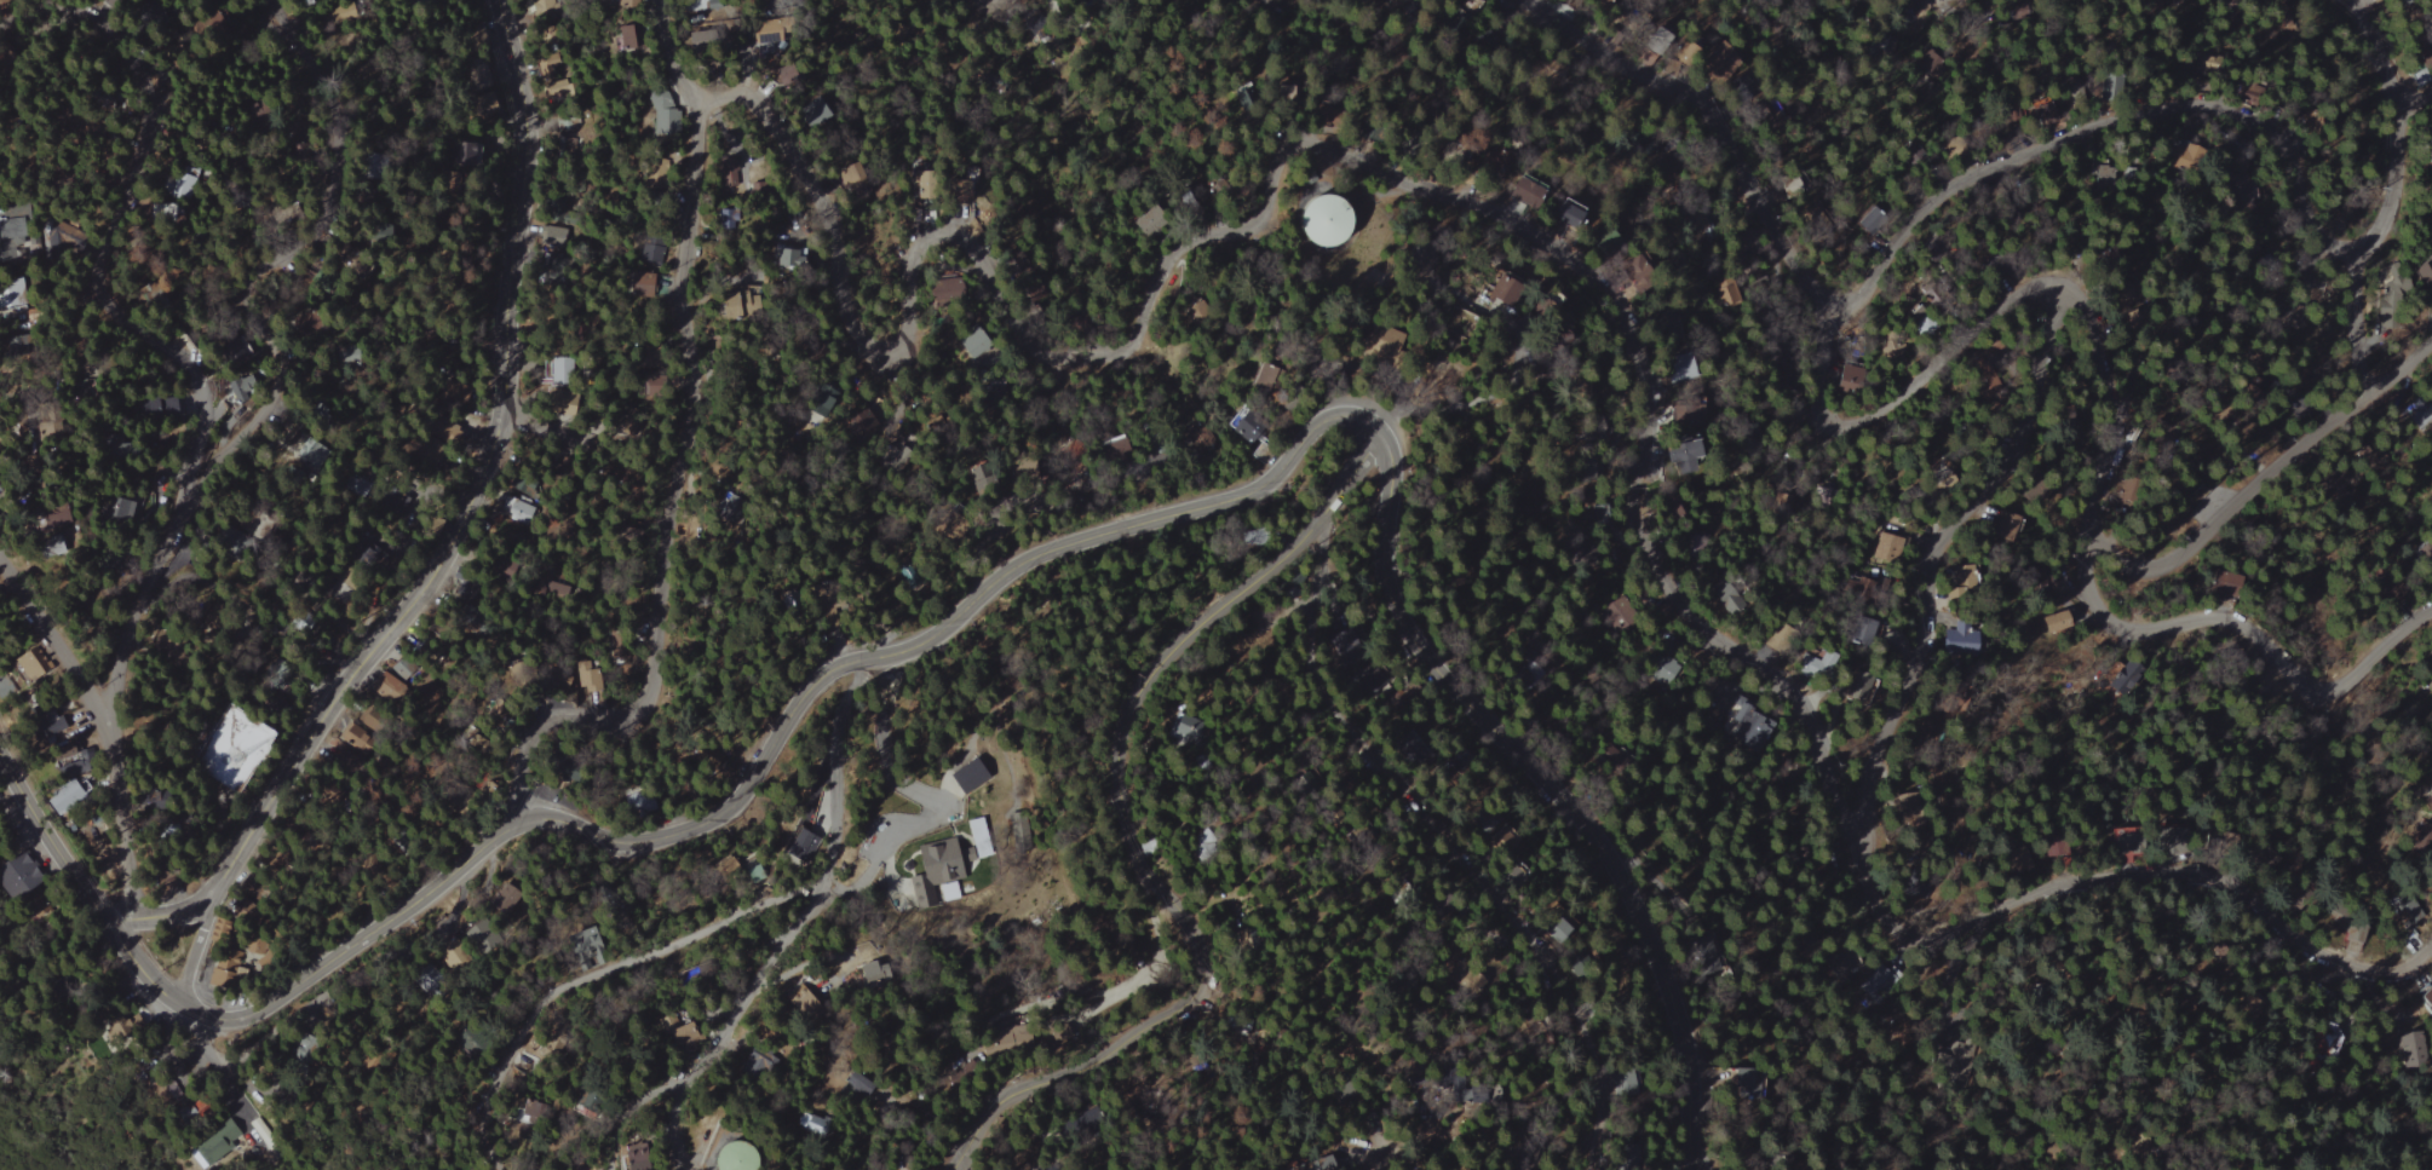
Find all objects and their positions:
building: (120, 0)
building: (625, 1)
building: (504, 36)
building: (619, 38)
road: (2373, 51)
building: (1721, 62)
road: (2411, 100)
building: (815, 113)
building: (660, 114)
building: (2430, 149)
building: (655, 172)
building: (725, 178)
road: (1960, 186)
road: (2391, 186)
building: (1528, 191)
building: (174, 209)
building: (954, 212)
building: (1568, 214)
building: (1324, 218)
storage tank: (1324, 218)
road: (116, 219)
building: (21, 227)
building: (67, 247)
building: (1996, 257)
building: (1932, 258)
road: (1582, 263)
building: (639, 282)
building: (2388, 284)
building: (1500, 294)
building: (1937, 301)
building: (1953, 318)
building: (1919, 319)
building: (1366, 341)
building: (1897, 352)
road: (274, 355)
building: (1985, 363)
building: (1689, 369)
building: (1851, 377)
building: (243, 392)
road: (1904, 393)
building: (266, 416)
road: (548, 427)
building: (1241, 427)
building: (311, 453)
road: (680, 453)
road: (2261, 478)
road: (619, 486)
building: (1996, 519)
road: (452, 534)
building: (1886, 547)
building: (2427, 554)
road: (1928, 567)
building: (1962, 574)
building: (2225, 581)
road: (2117, 621)
road: (44, 626)
building: (1343, 638)
building: (1959, 641)
building: (2428, 661)
building: (33, 668)
building: (587, 680)
building: (386, 684)
building: (6, 688)
building: (1188, 727)
building: (1749, 727)
road: (778, 734)
building: (238, 749)
road: (1120, 765)
building: (965, 777)
building: (75, 785)
road: (1550, 788)
road: (927, 794)
road: (116, 814)
road: (50, 836)
road: (1447, 842)
building: (792, 845)
building: (2424, 846)
building: (932, 870)
building: (24, 877)
road: (826, 891)
building: (504, 898)
building: (220, 935)
road: (199, 947)
road: (139, 967)
road: (596, 972)
building: (868, 972)
building: (234, 974)
building: (804, 999)
building: (304, 1050)
building: (755, 1059)
building: (1760, 1084)
road: (1024, 1087)
road: (248, 1096)
road: (896, 1100)
road: (625, 1112)
road: (674, 1128)
road: (977, 1132)
building: (264, 1135)
building: (218, 1145)
building: (724, 1157)
building: (627, 1162)
road: (1386, 1162)
road: (962, 1165)

